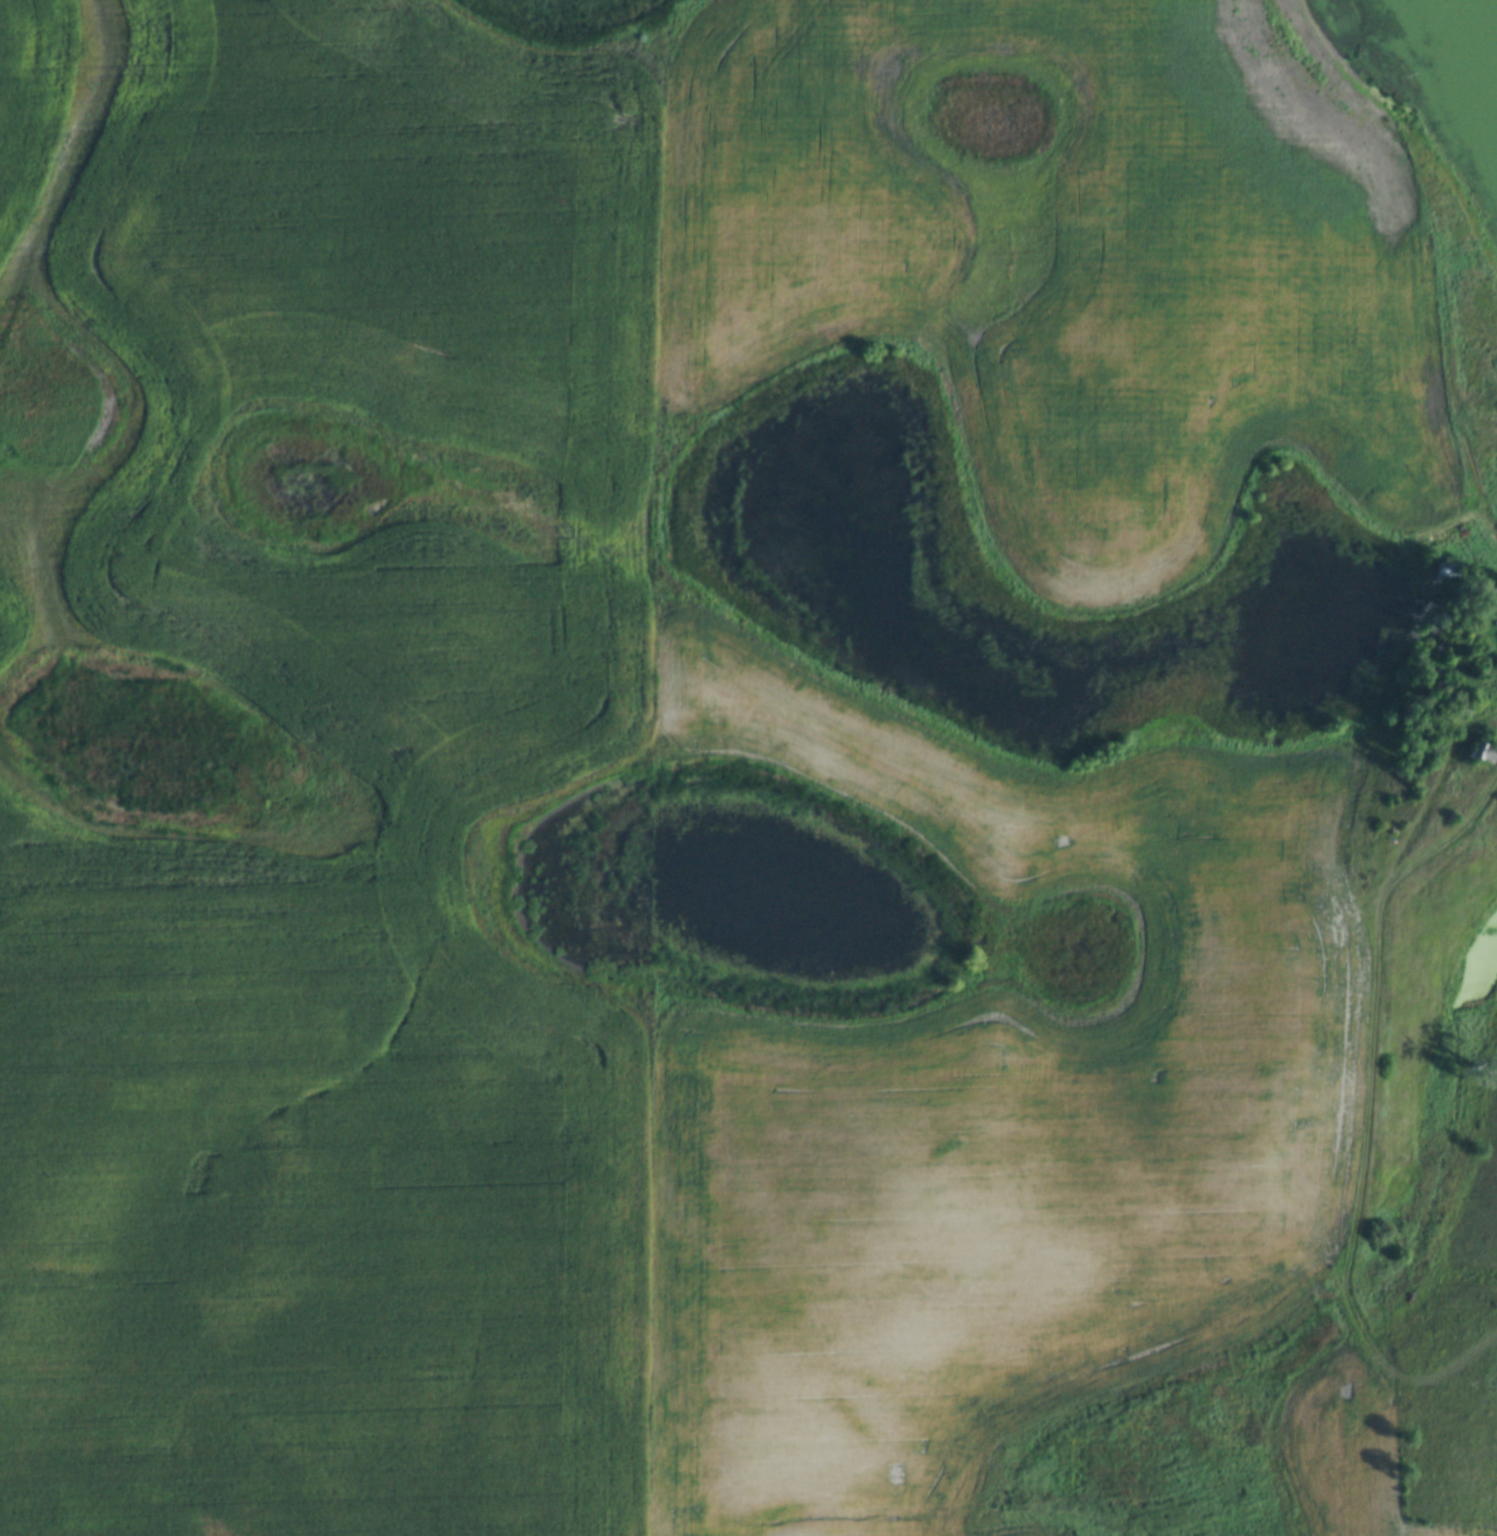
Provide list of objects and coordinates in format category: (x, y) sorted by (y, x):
road: (1455, 262)
building: (1480, 753)
road: (1493, 793)

